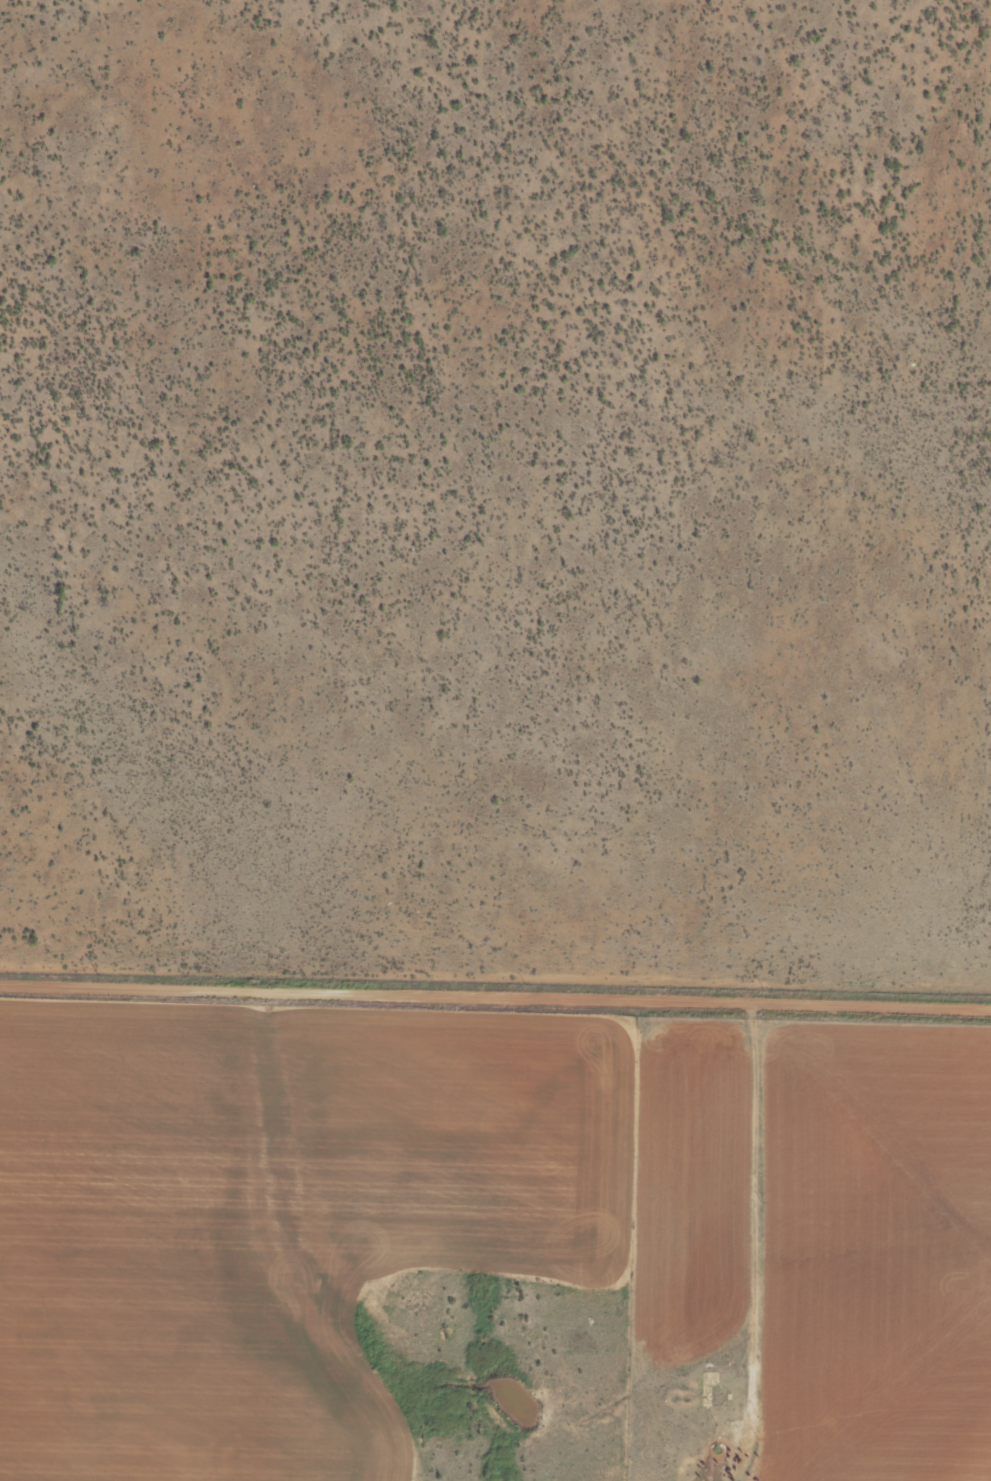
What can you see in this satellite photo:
road: (495, 995)
road: (744, 1250)

